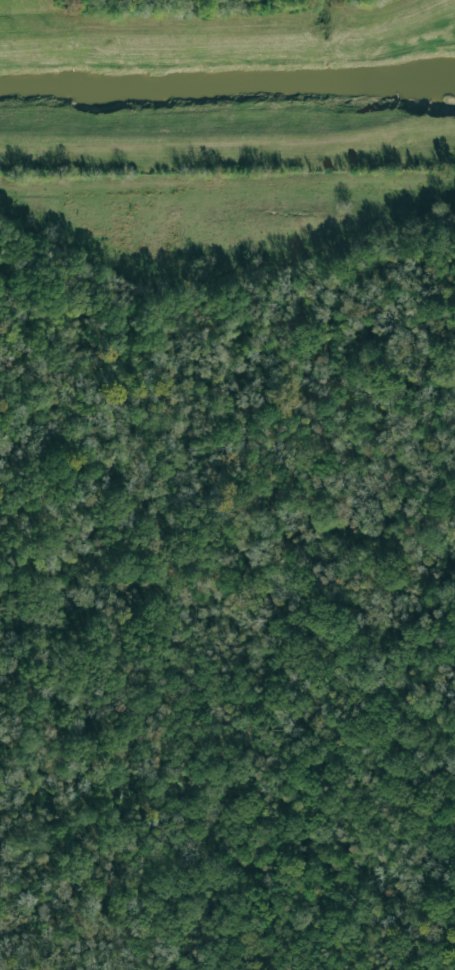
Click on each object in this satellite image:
river: (228, 80)

